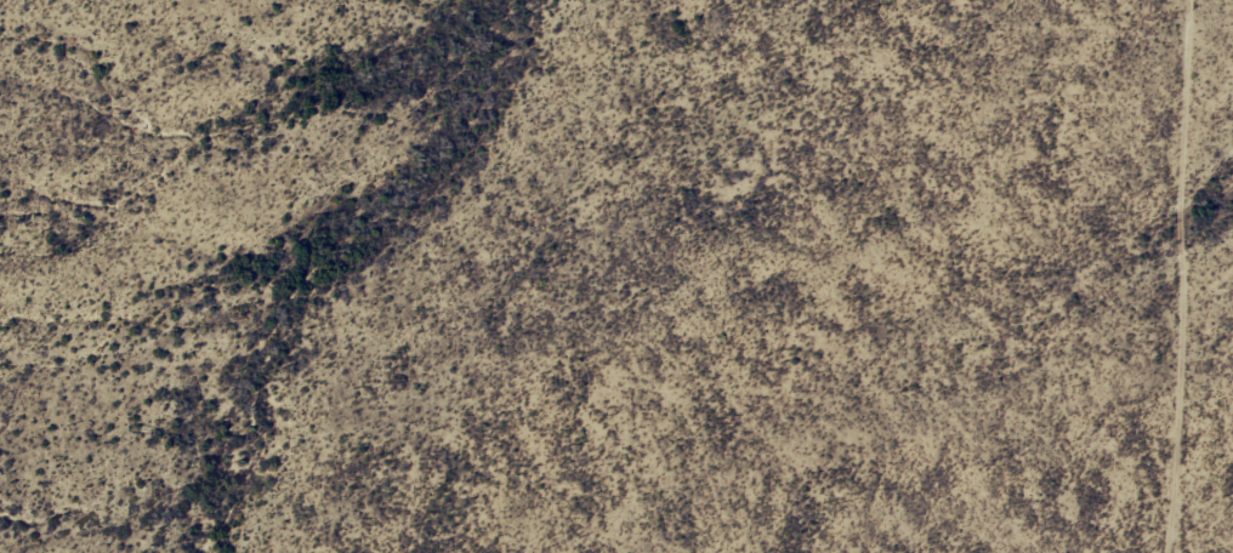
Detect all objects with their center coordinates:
road: (1194, 275)

